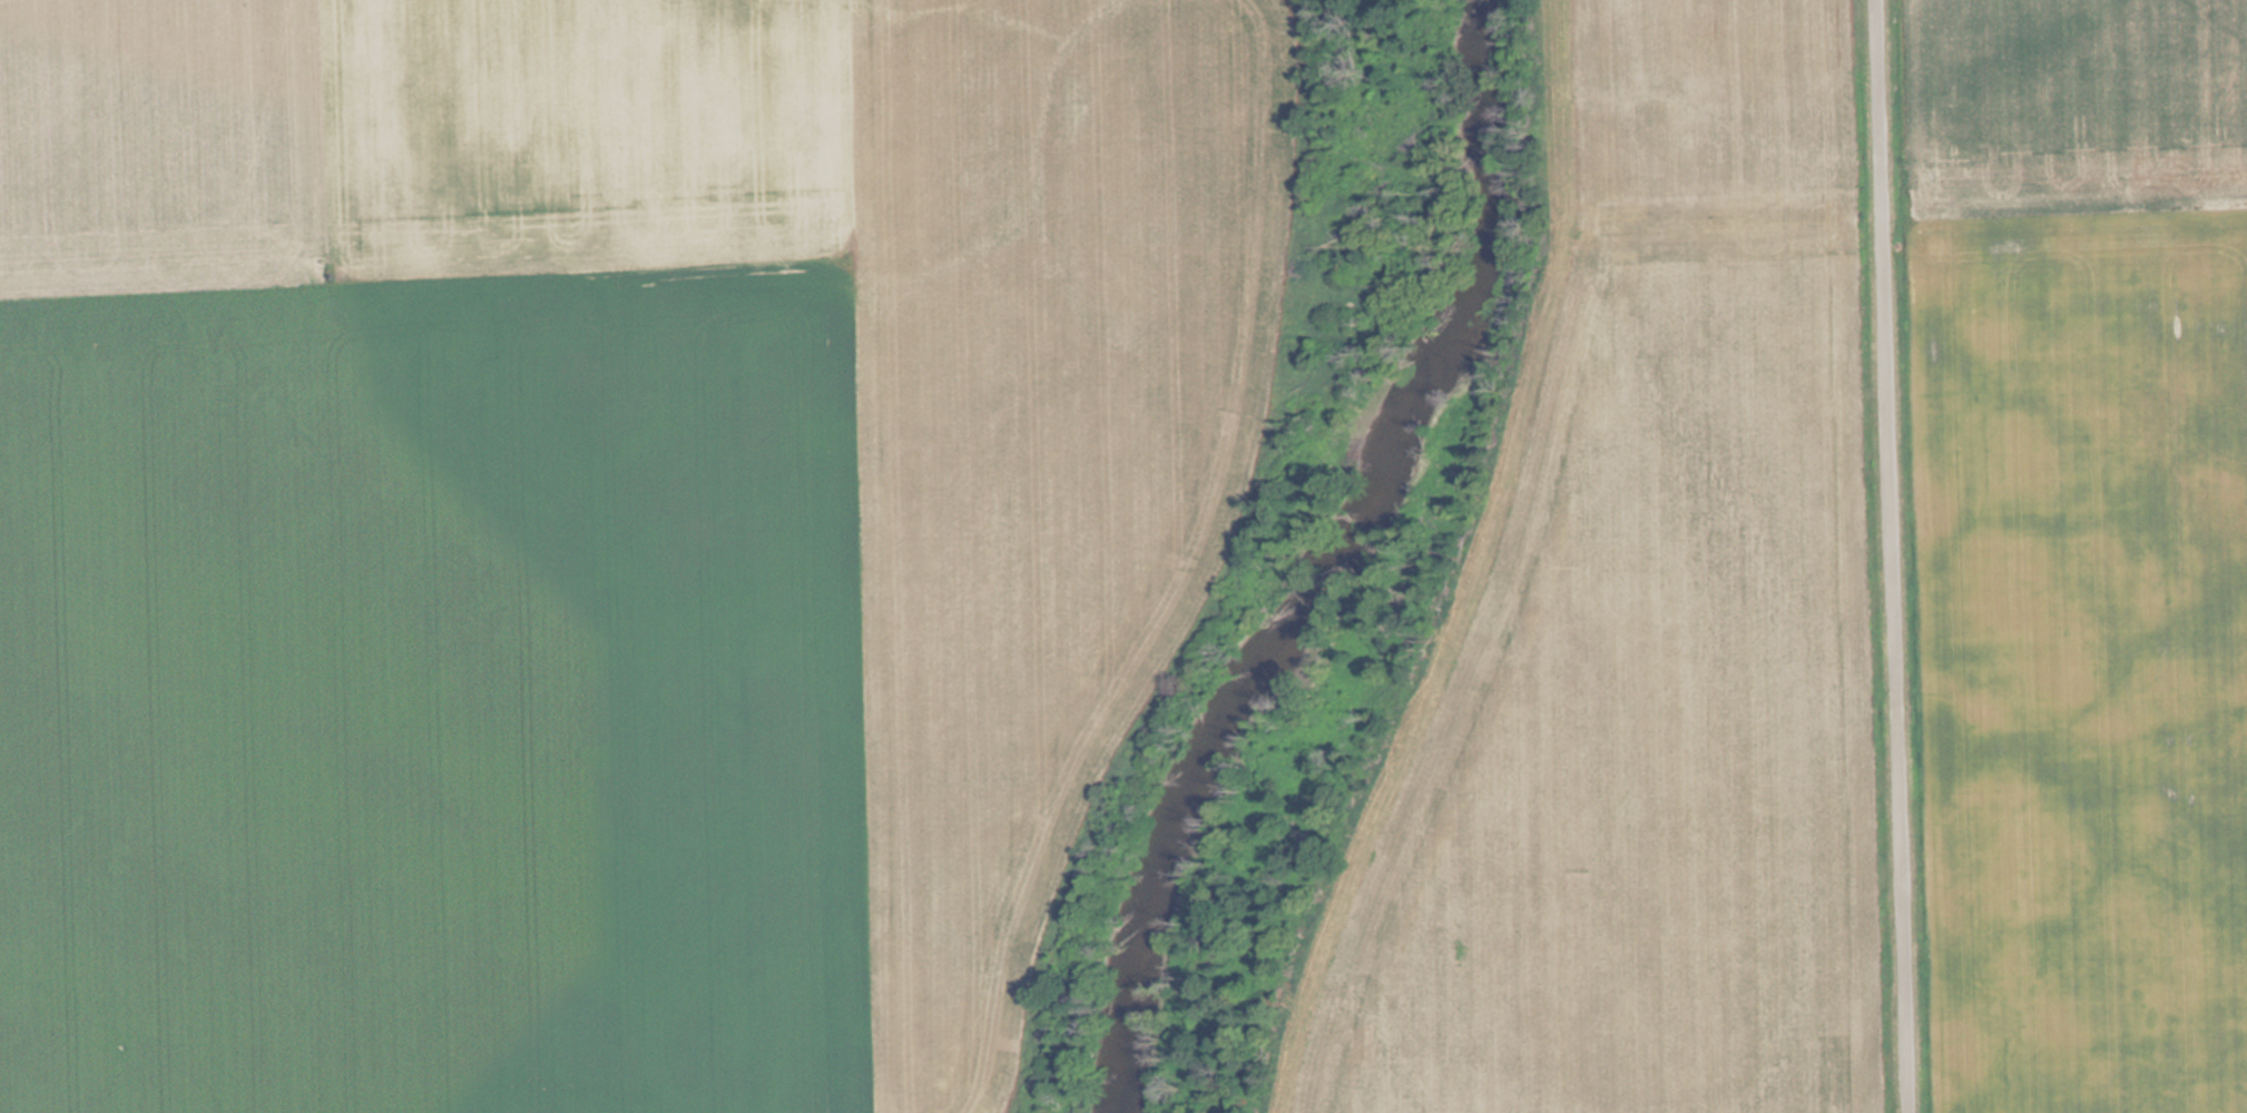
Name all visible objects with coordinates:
road: (1905, 555)
river: (1329, 571)

